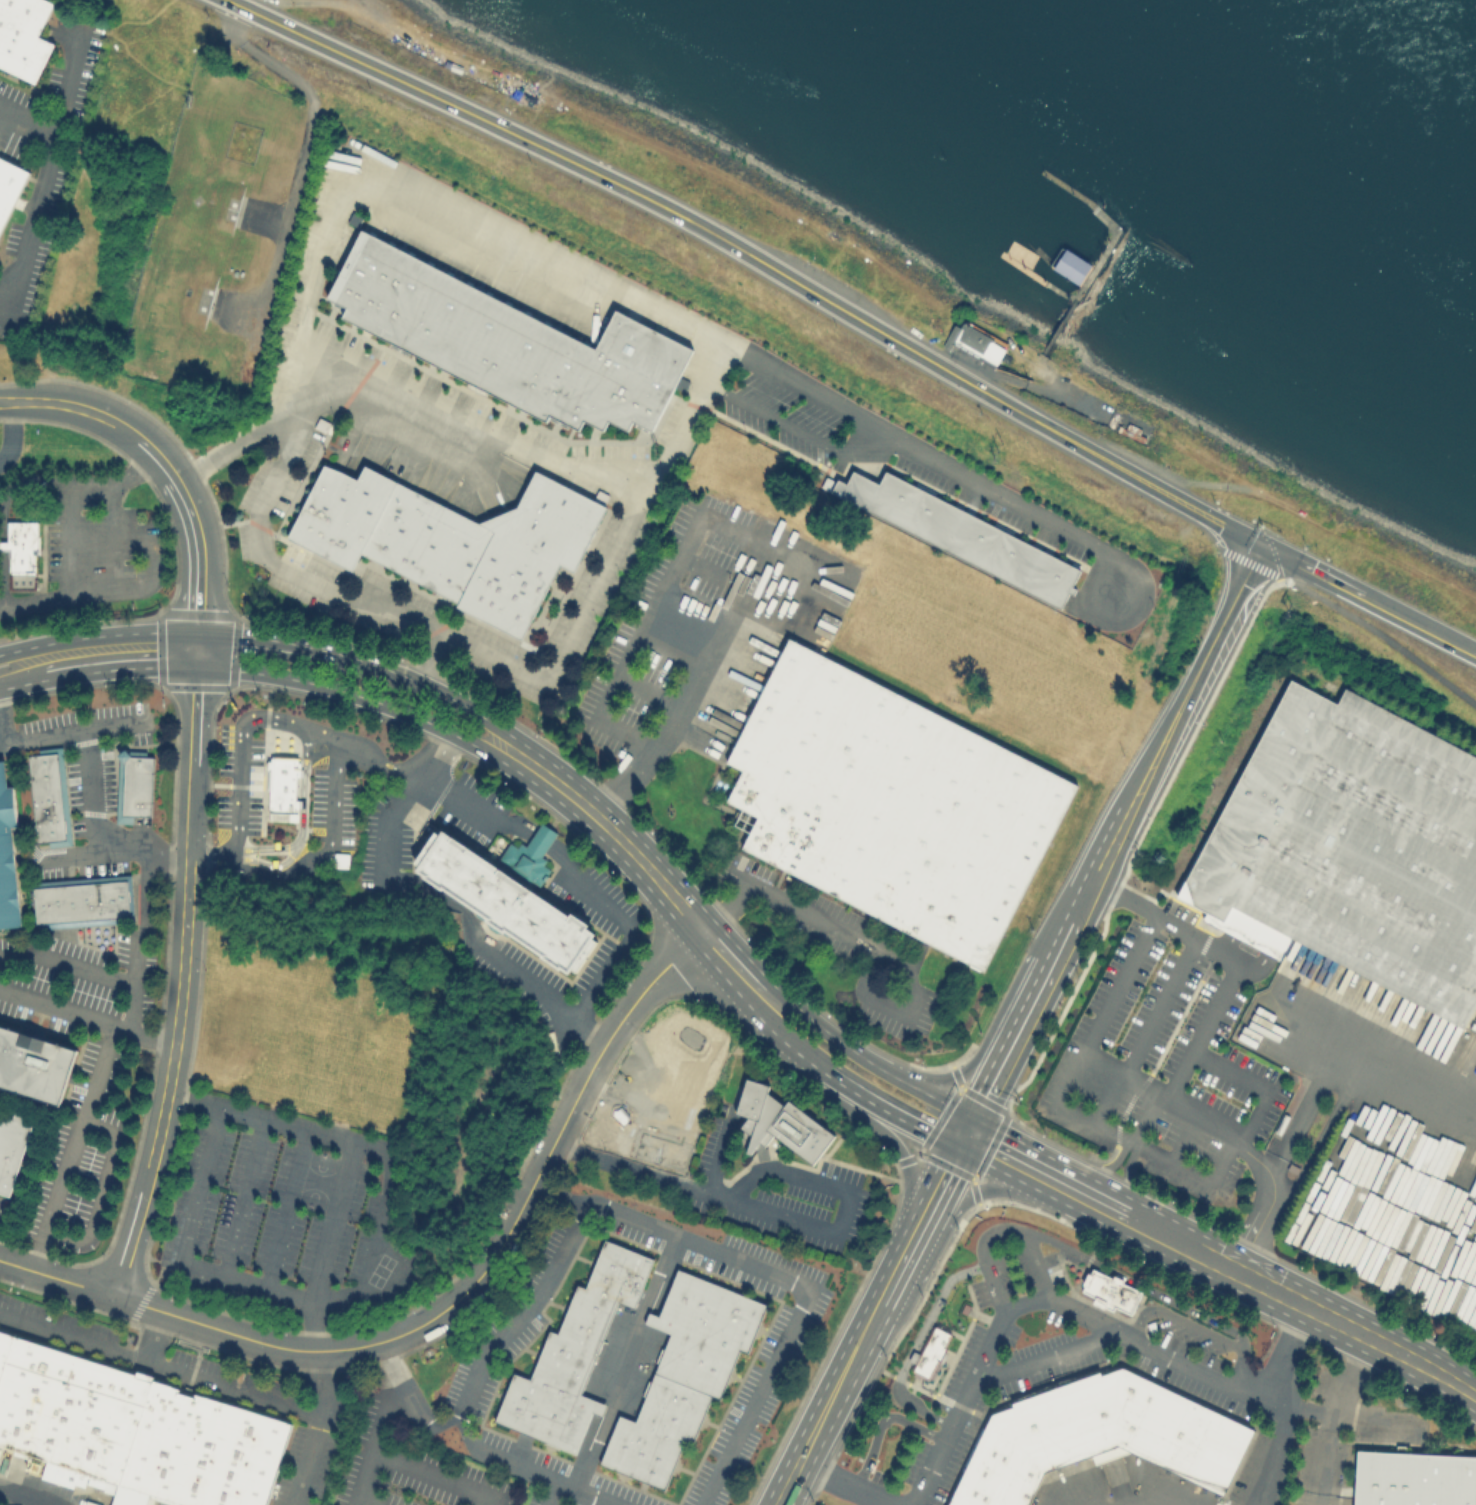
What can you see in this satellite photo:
building: (23, 36)
road: (26, 122)
road: (306, 149)
road: (46, 162)
building: (9, 184)
road: (506, 233)
pier: (1107, 250)
road: (754, 257)
building: (1071, 266)
pier: (1041, 277)
building: (983, 342)
building: (508, 345)
road: (94, 413)
road: (768, 416)
building: (322, 422)
road: (11, 433)
road: (858, 445)
road: (933, 456)
road: (117, 482)
road: (4, 517)
building: (962, 530)
road: (115, 537)
road: (70, 538)
building: (457, 541)
building: (24, 544)
traffic signals: (1266, 547)
road: (610, 565)
road: (200, 566)
road: (107, 591)
road: (1370, 600)
road: (1368, 627)
traffic signals: (199, 633)
road: (266, 639)
road: (624, 663)
traffic signals: (198, 667)
road: (123, 668)
road: (1199, 677)
road: (24, 684)
road: (354, 695)
road: (672, 724)
road: (59, 737)
road: (4, 746)
parking lot: (240, 781)
road: (441, 783)
building: (139, 786)
building: (282, 787)
building: (48, 798)
building: (889, 806)
parking lot: (334, 810)
road: (304, 817)
road: (611, 830)
building: (1356, 848)
building: (9, 855)
road: (72, 858)
road: (215, 858)
road: (277, 866)
road: (1103, 868)
road: (440, 896)
building: (510, 896)
building: (83, 902)
road: (1266, 942)
road: (862, 943)
road: (737, 969)
road: (1018, 976)
road: (133, 984)
road: (181, 985)
road: (1164, 1008)
road: (133, 1009)
road: (87, 1019)
road: (1027, 1024)
road: (1102, 1029)
road: (784, 1037)
road: (872, 1063)
road: (1190, 1064)
road: (1370, 1066)
building: (37, 1068)
parking lot: (1164, 1070)
road: (941, 1079)
road: (1258, 1087)
road: (882, 1110)
road: (1304, 1112)
road: (1145, 1118)
traffic signals: (977, 1120)
building: (781, 1126)
road: (1323, 1133)
road: (968, 1135)
road: (890, 1140)
road: (1135, 1144)
building: (14, 1149)
traffic signals: (960, 1150)
road: (76, 1151)
road: (394, 1161)
road: (1115, 1164)
road: (1070, 1168)
road: (1130, 1171)
park: (319, 1180)
road: (105, 1193)
road: (244, 1198)
road: (1054, 1199)
road: (932, 1200)
road: (288, 1210)
road: (779, 1214)
road: (333, 1222)
road: (2, 1228)
parking lot: (285, 1231)
road: (999, 1231)
road: (668, 1233)
road: (1177, 1240)
road: (941, 1243)
road: (186, 1249)
road: (1137, 1283)
building: (1108, 1290)
road: (887, 1291)
road: (1025, 1304)
road: (443, 1311)
road: (1339, 1322)
road: (1197, 1328)
road: (75, 1335)
road: (918, 1344)
building: (929, 1351)
building: (573, 1355)
road: (1049, 1355)
road: (630, 1363)
building: (683, 1375)
road: (1354, 1377)
road: (215, 1380)
road: (832, 1396)
road: (405, 1399)
road: (1337, 1417)
building: (135, 1428)
road: (321, 1429)
building: (1095, 1435)
road: (1269, 1452)
road: (1324, 1460)
road: (522, 1462)
road: (435, 1477)
building: (1413, 1481)
road: (365, 1482)
road: (788, 1484)
road: (574, 1489)
road: (24, 1495)
road: (1122, 1499)

